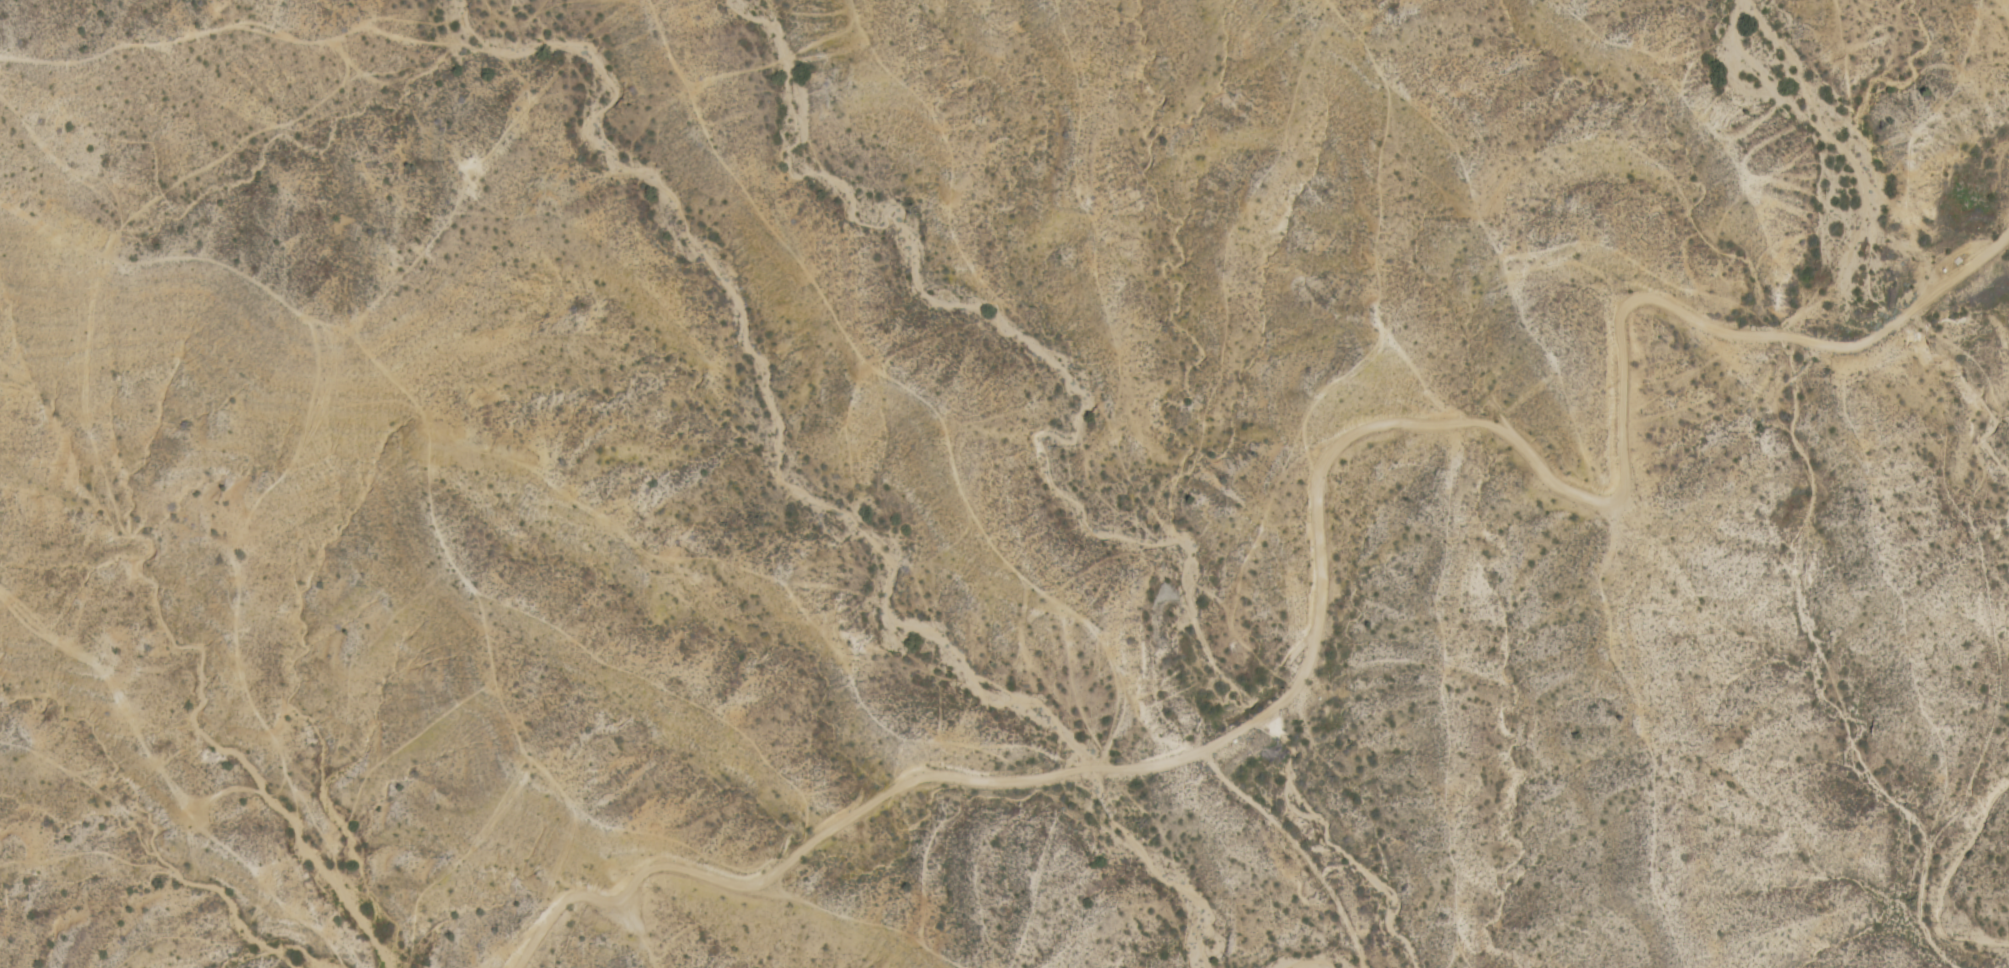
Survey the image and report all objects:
road: (1319, 546)

